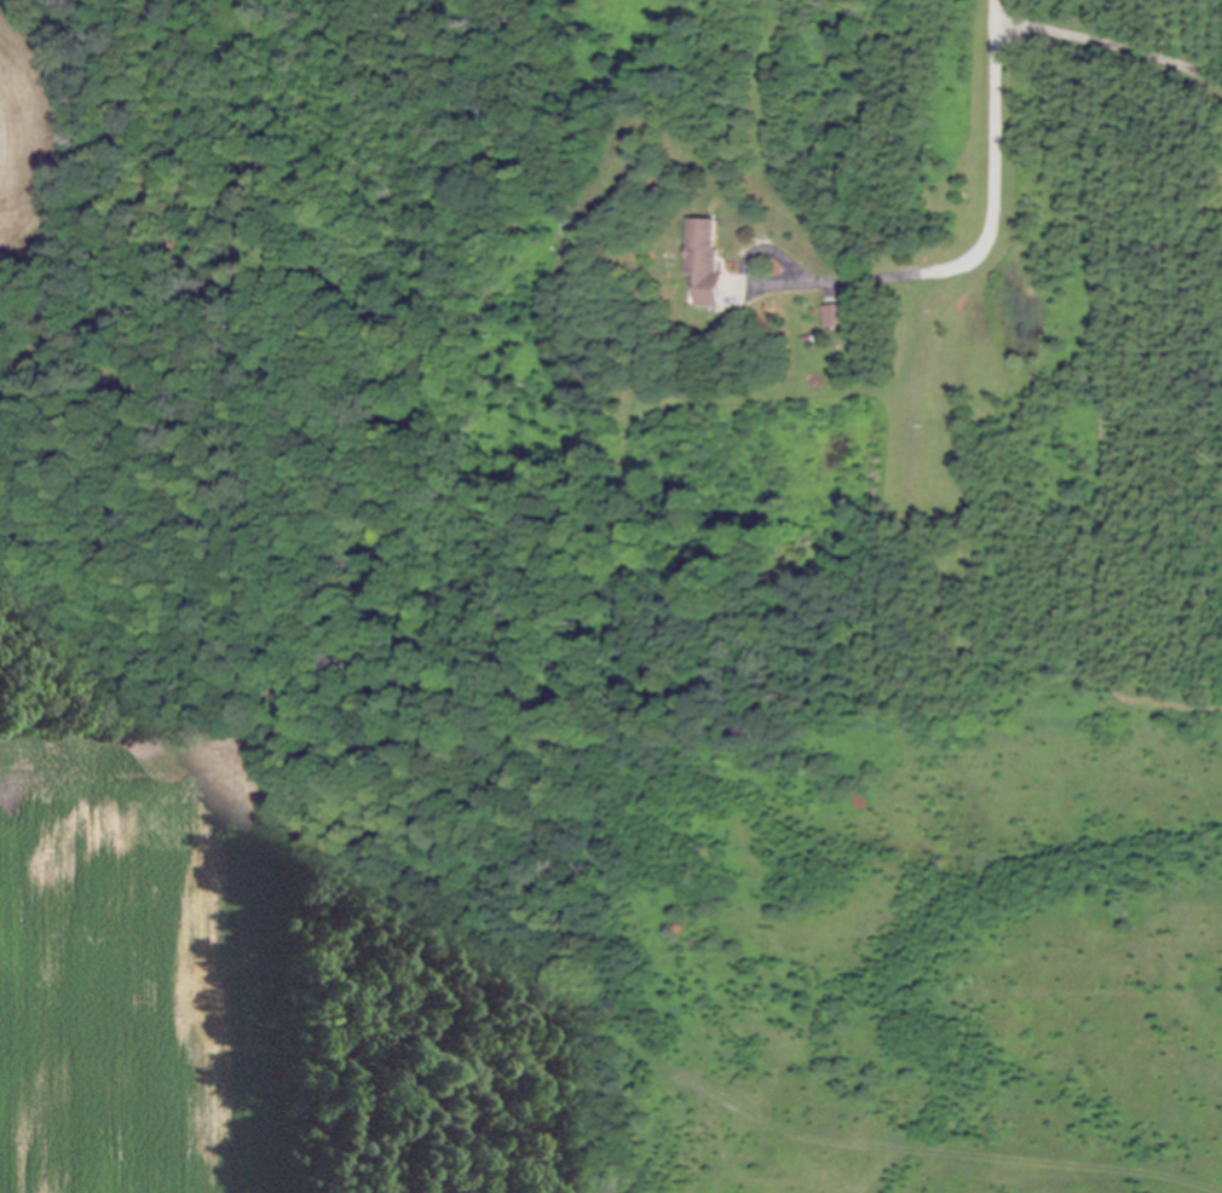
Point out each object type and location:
road: (1109, 45)
road: (995, 214)
road: (750, 254)
building: (708, 264)
building: (836, 318)

